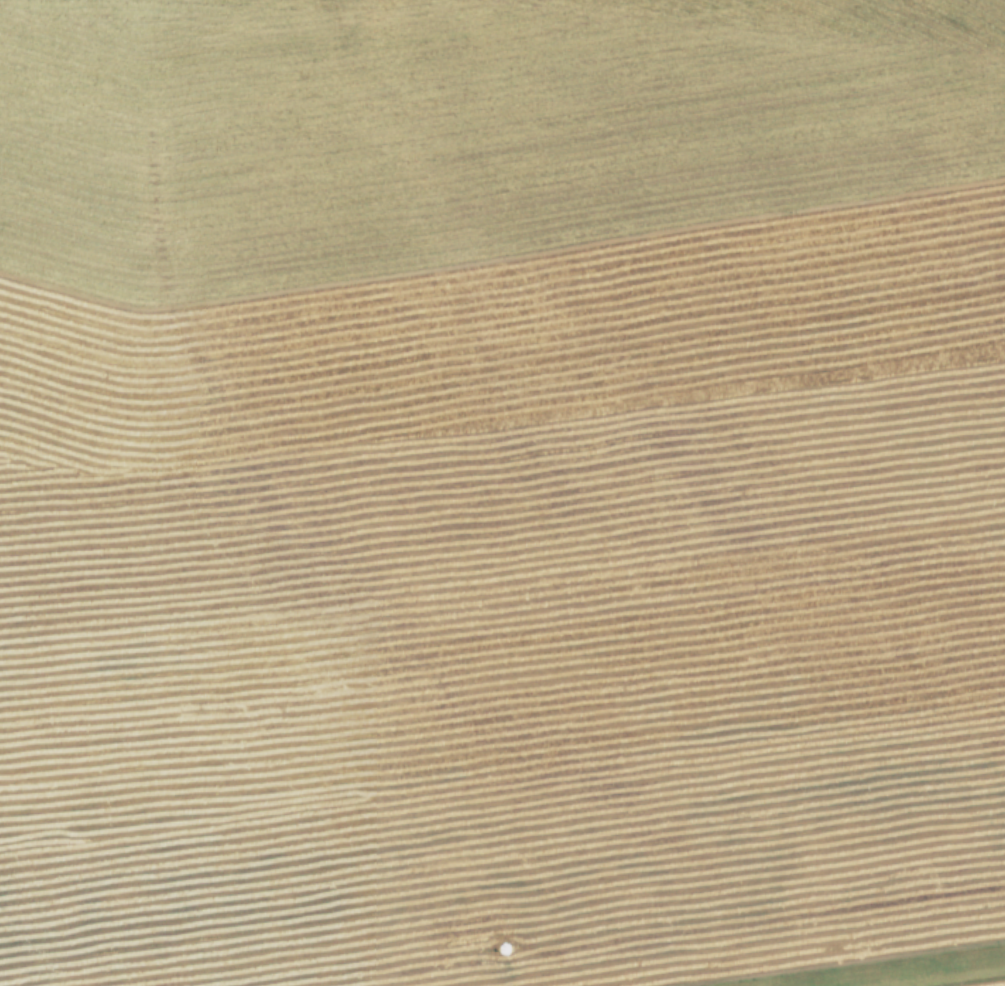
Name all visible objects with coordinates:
crop: (502, 493)
airport runway: (919, 973)

